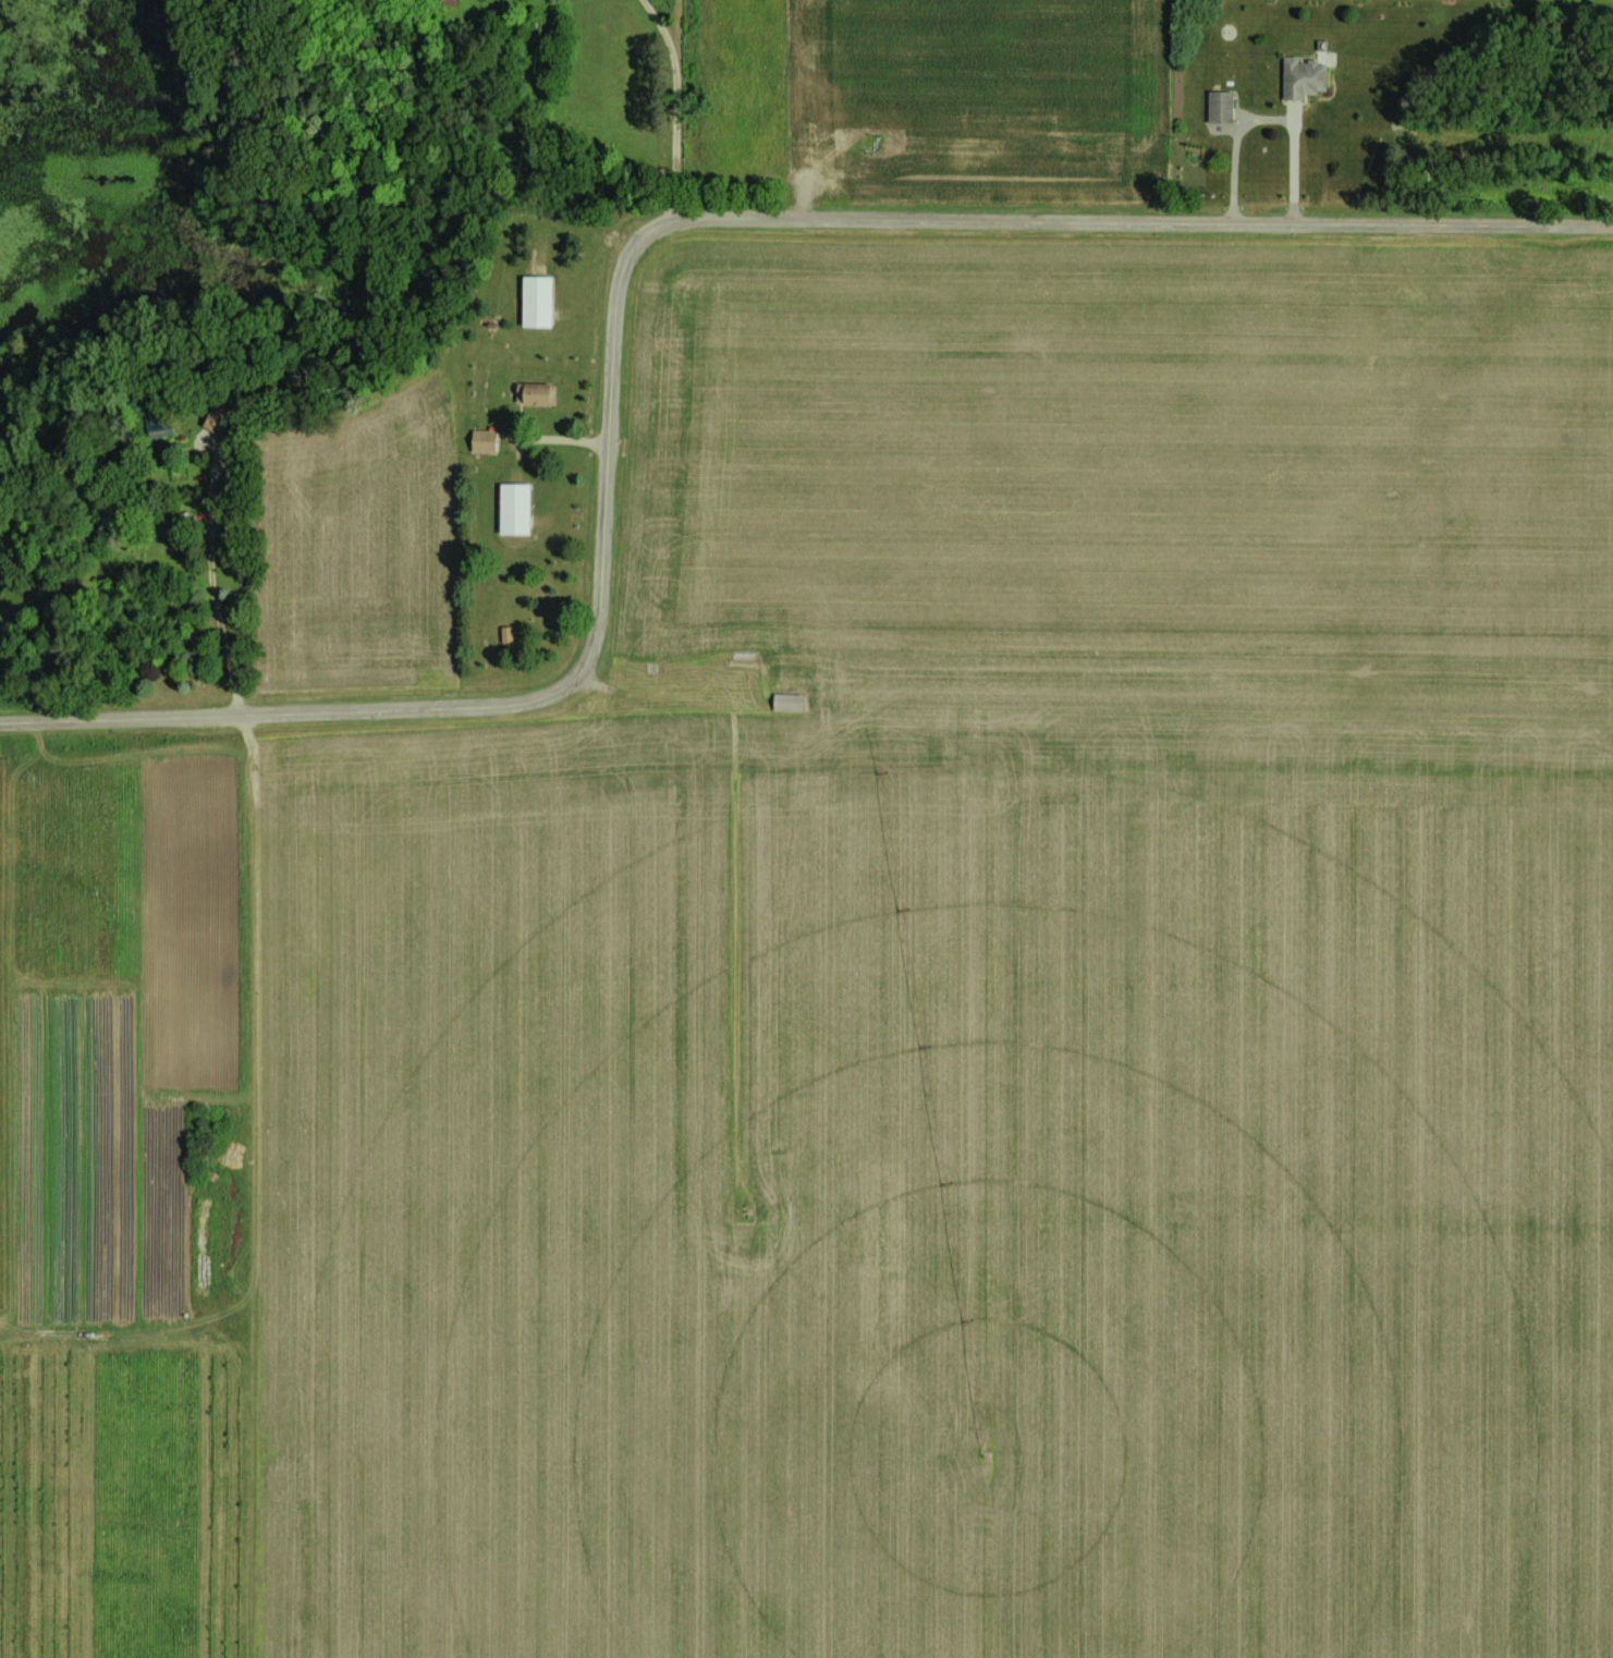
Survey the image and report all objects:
building: (1300, 77)
road: (676, 106)
building: (1219, 107)
road: (1272, 121)
road: (625, 260)
building: (535, 300)
building: (530, 393)
building: (218, 417)
building: (157, 422)
building: (482, 439)
building: (513, 508)
road: (213, 586)
building: (505, 634)
building: (742, 657)
building: (785, 700)

